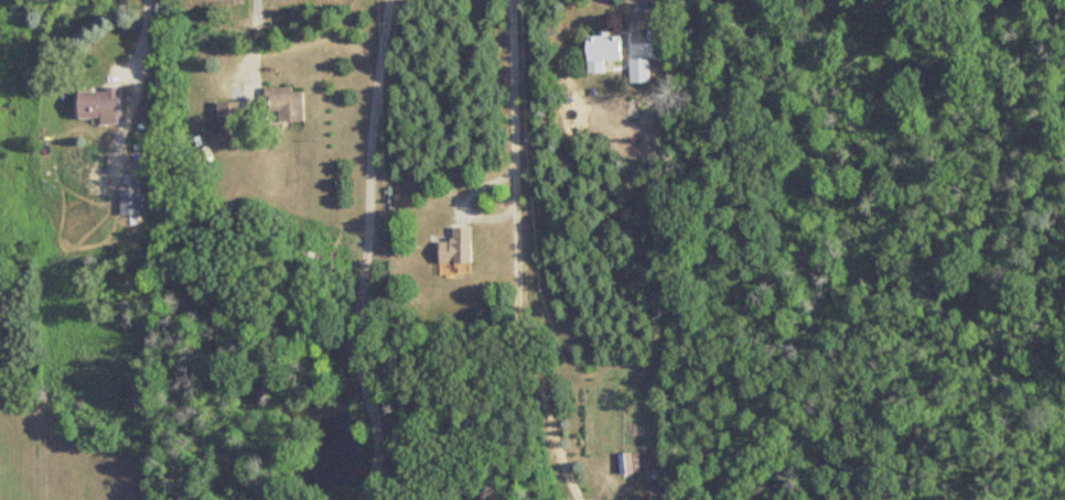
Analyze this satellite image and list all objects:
road: (148, 31)
building: (602, 51)
building: (639, 69)
building: (97, 102)
building: (286, 104)
building: (229, 117)
building: (130, 202)
building: (458, 247)
road: (367, 253)
road: (519, 256)
building: (626, 463)

